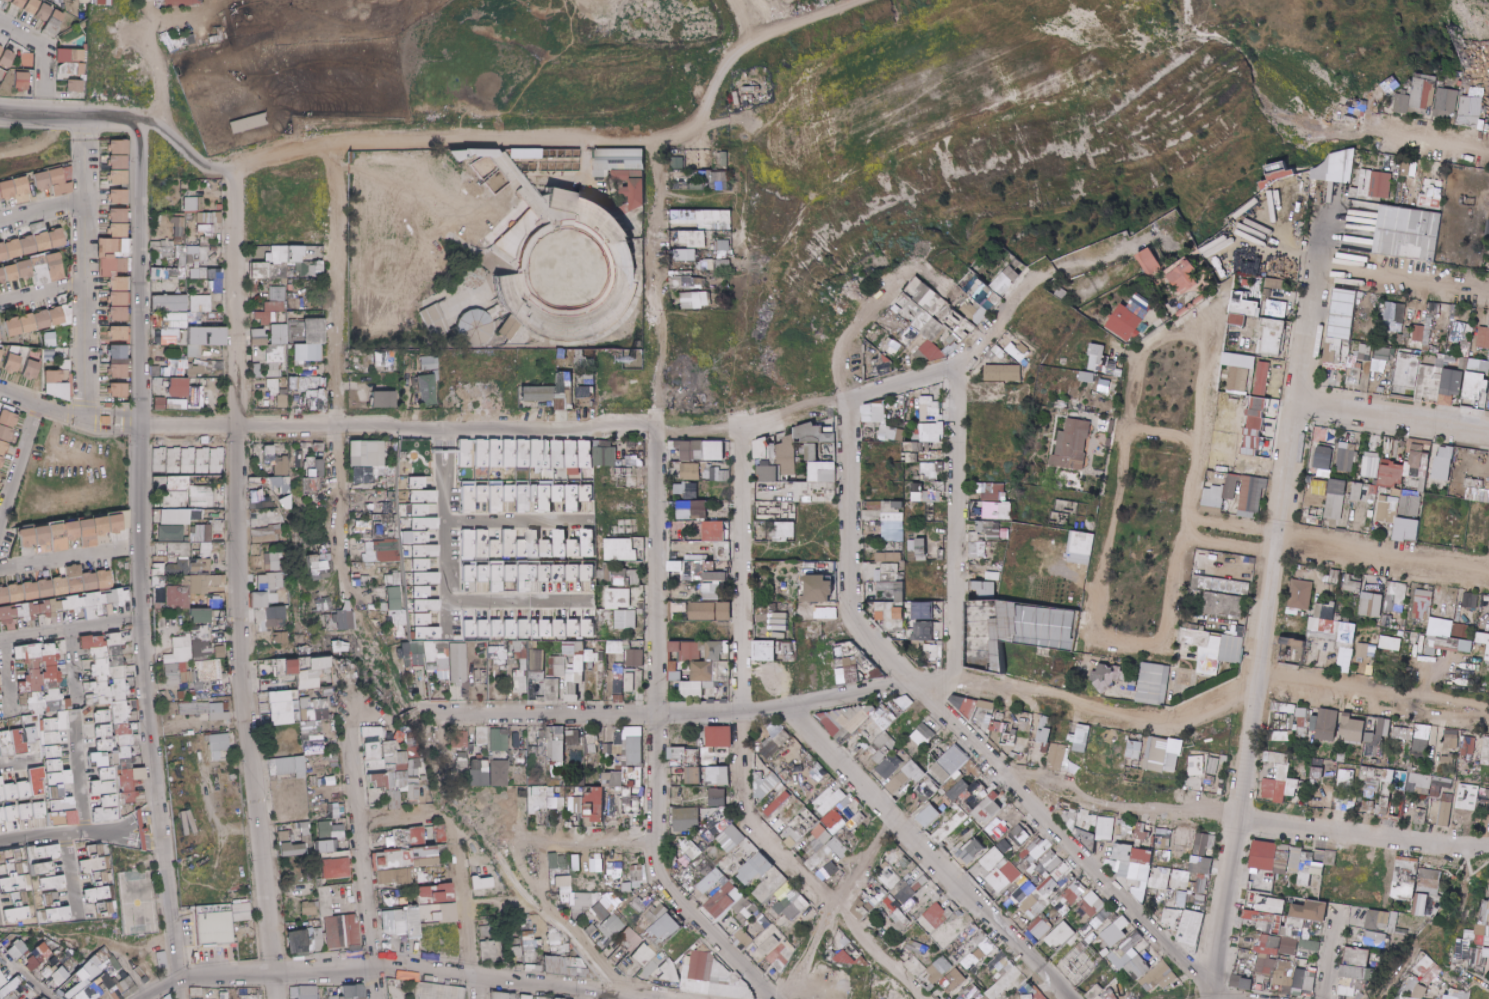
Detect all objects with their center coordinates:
park: (21, 131)
parking lot: (472, 210)

